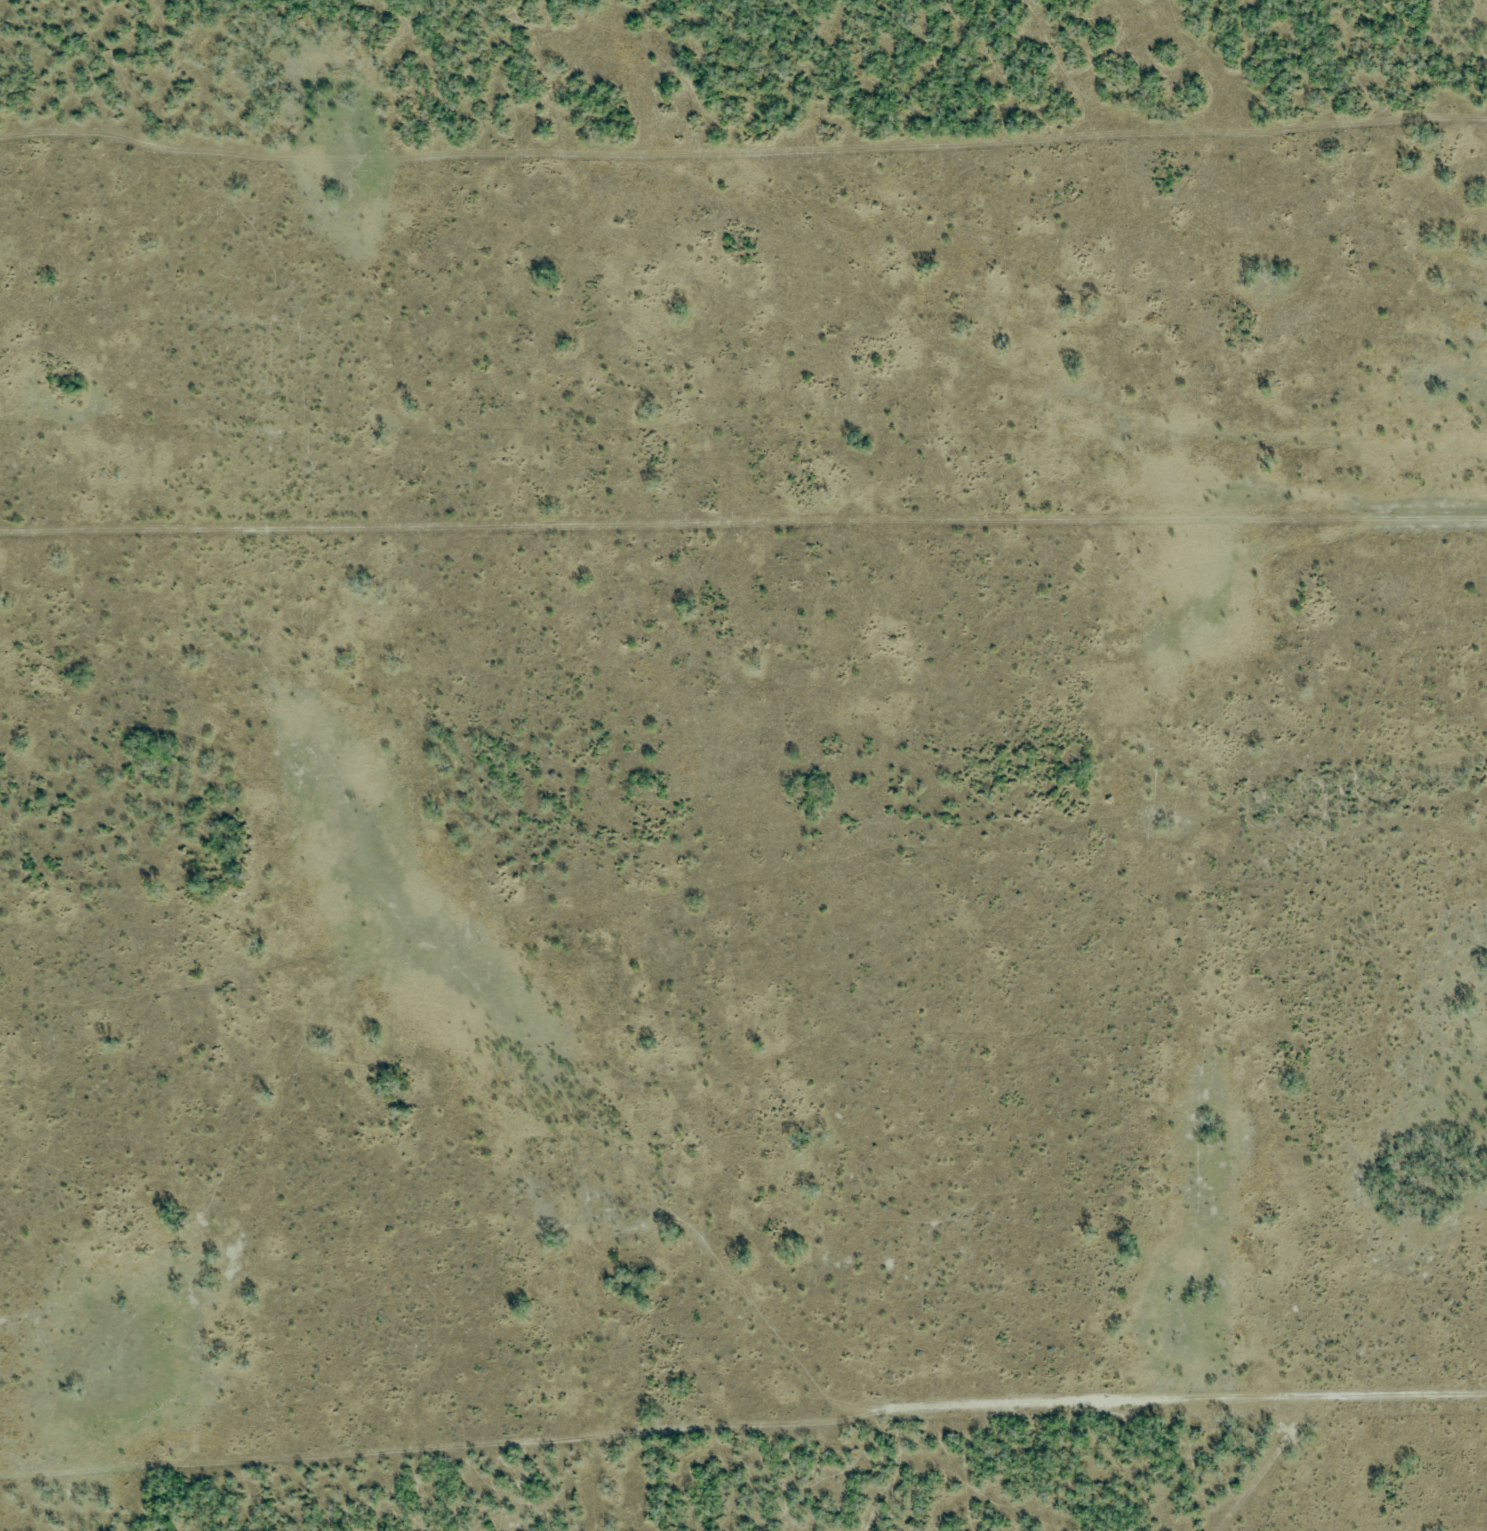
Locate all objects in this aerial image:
road: (183, 926)

